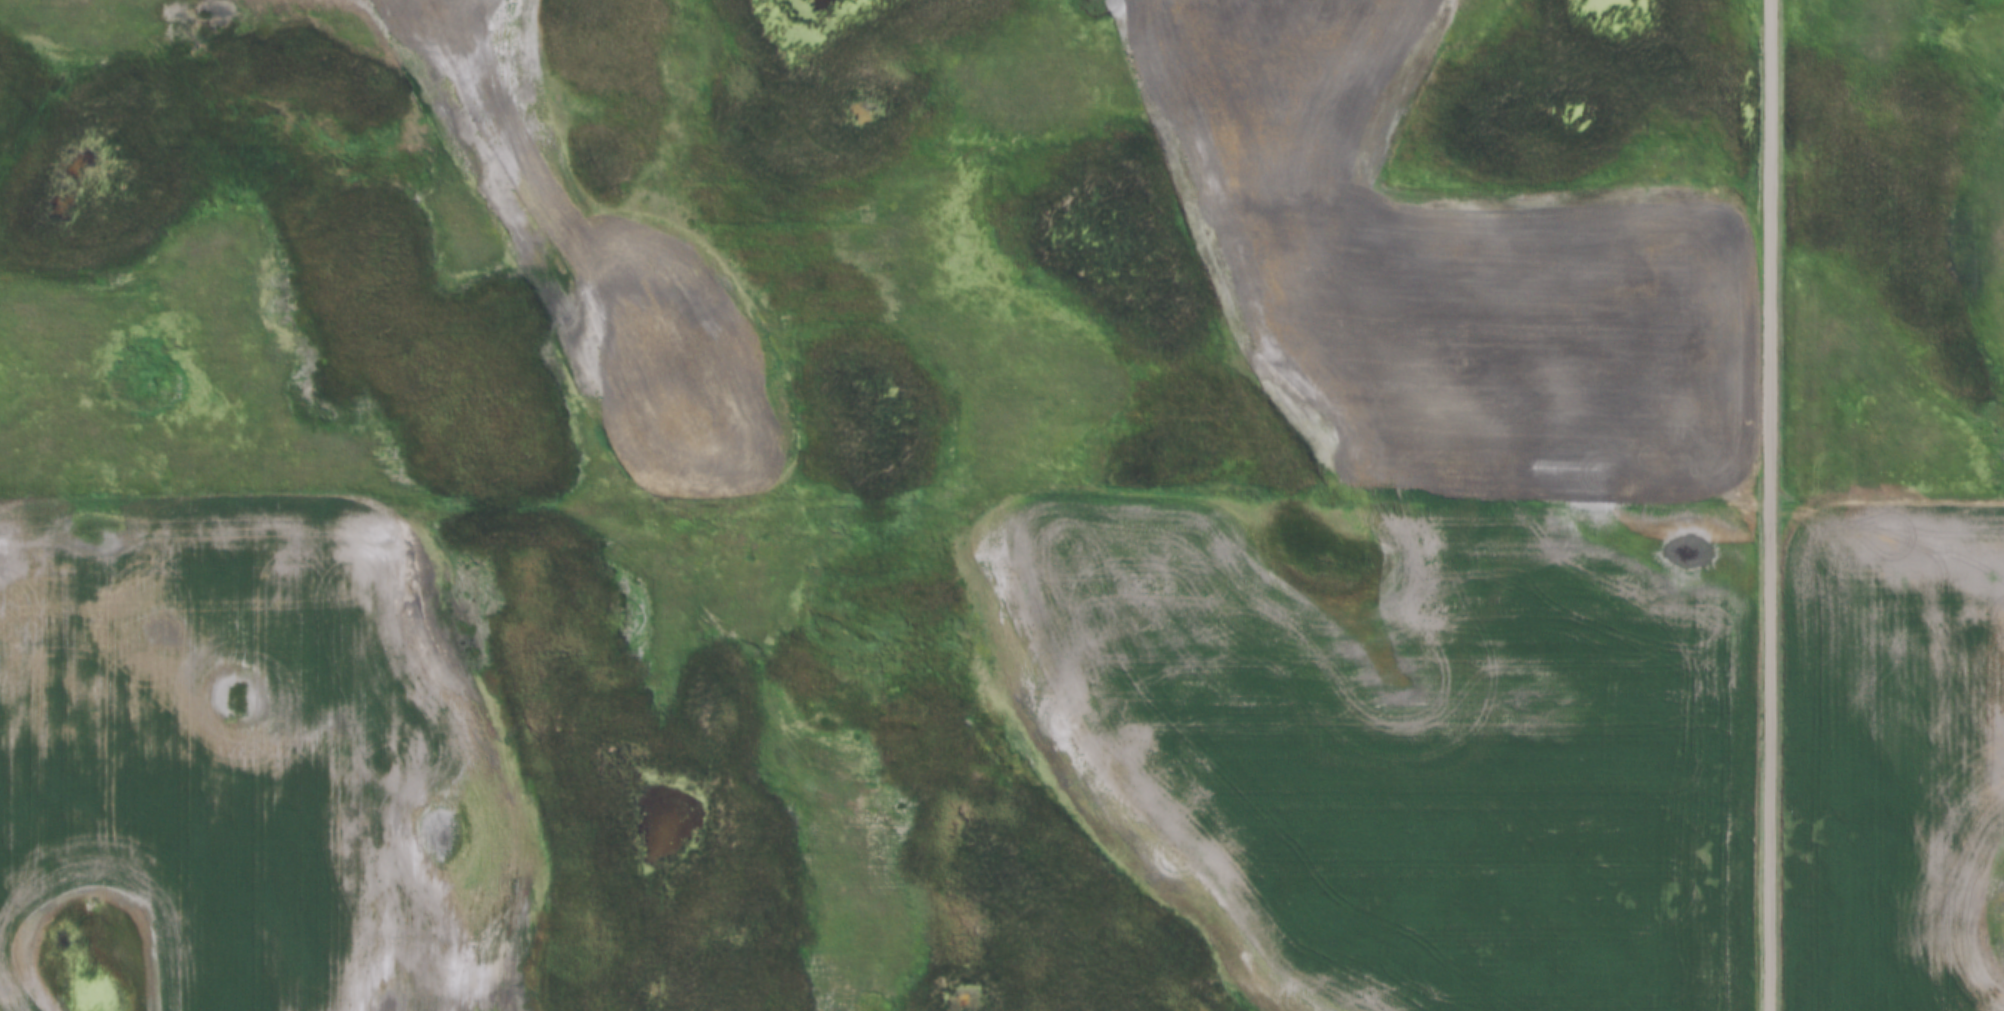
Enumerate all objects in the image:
road: (1771, 505)

